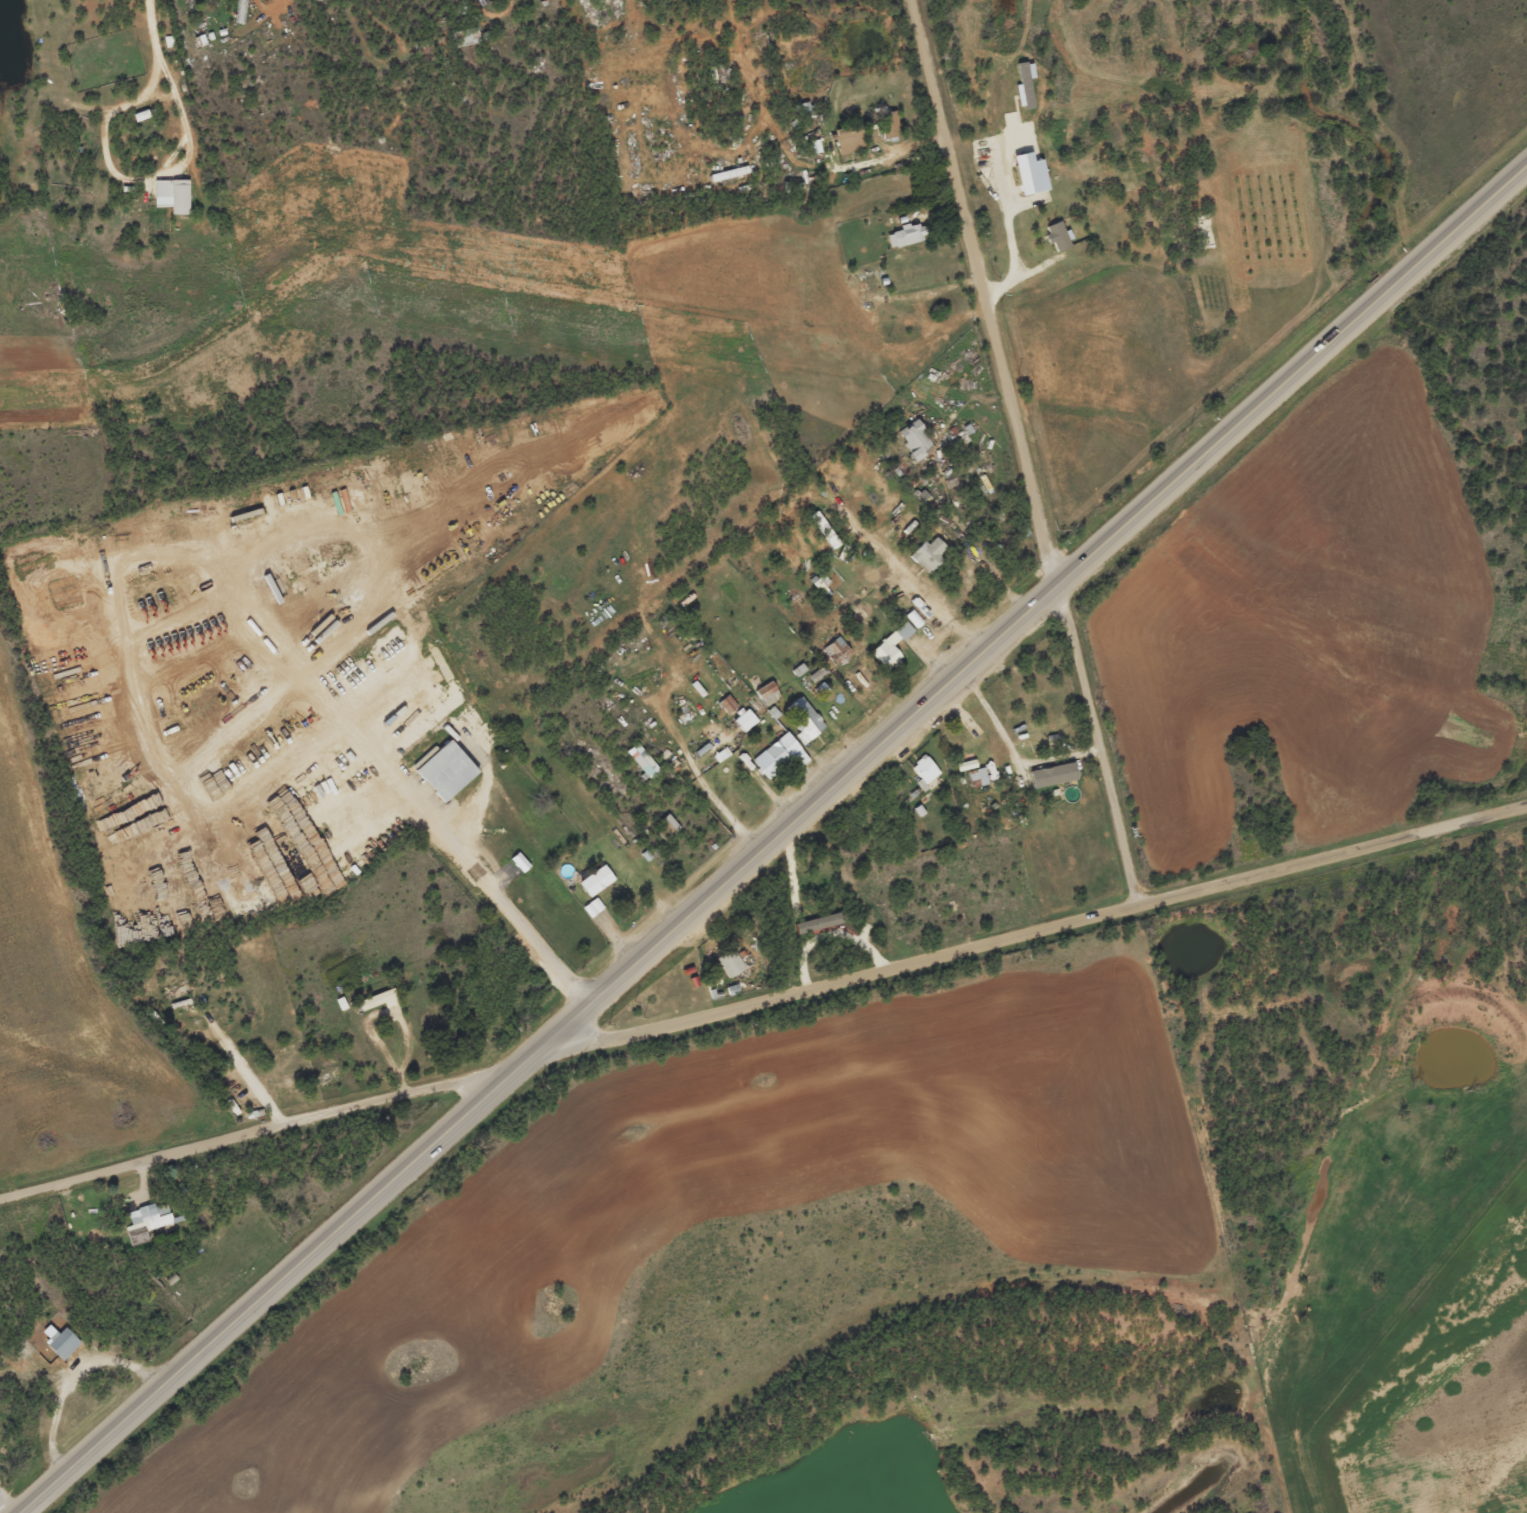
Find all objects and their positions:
road: (152, 26)
building: (890, 124)
building: (849, 139)
building: (1029, 173)
road: (134, 179)
building: (172, 195)
building: (906, 235)
building: (1058, 236)
building: (914, 439)
road: (1022, 454)
road: (835, 493)
building: (929, 553)
building: (822, 586)
building: (892, 645)
building: (836, 650)
building: (818, 673)
building: (767, 693)
building: (804, 718)
building: (745, 720)
building: (711, 729)
building: (780, 754)
building: (642, 760)
building: (446, 770)
building: (925, 770)
building: (1052, 774)
building: (977, 777)
building: (667, 826)
road: (772, 837)
building: (520, 861)
road: (475, 866)
building: (596, 880)
building: (593, 906)
building: (817, 922)
road: (1027, 934)
building: (730, 962)
building: (378, 999)
road: (264, 1130)
building: (146, 1221)
building: (64, 1343)
road: (1, 1508)

